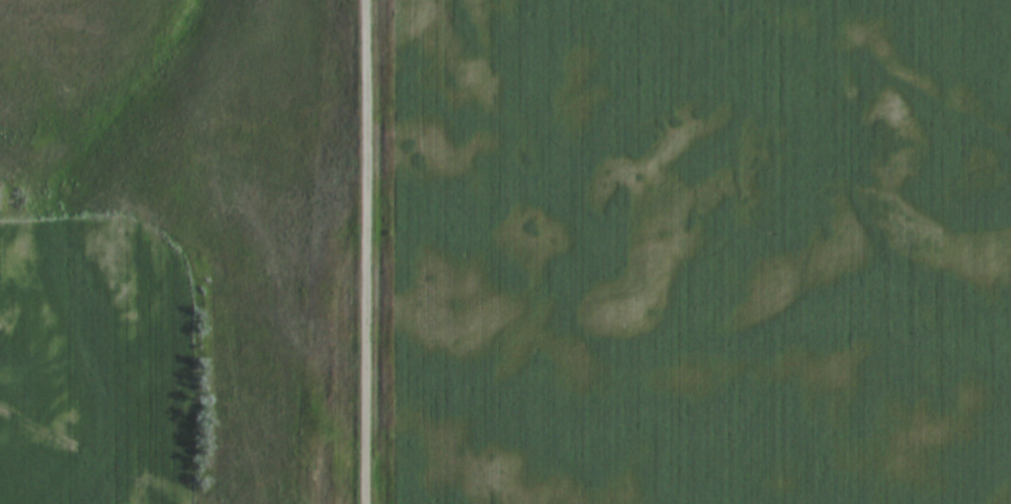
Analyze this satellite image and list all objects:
road: (365, 251)

